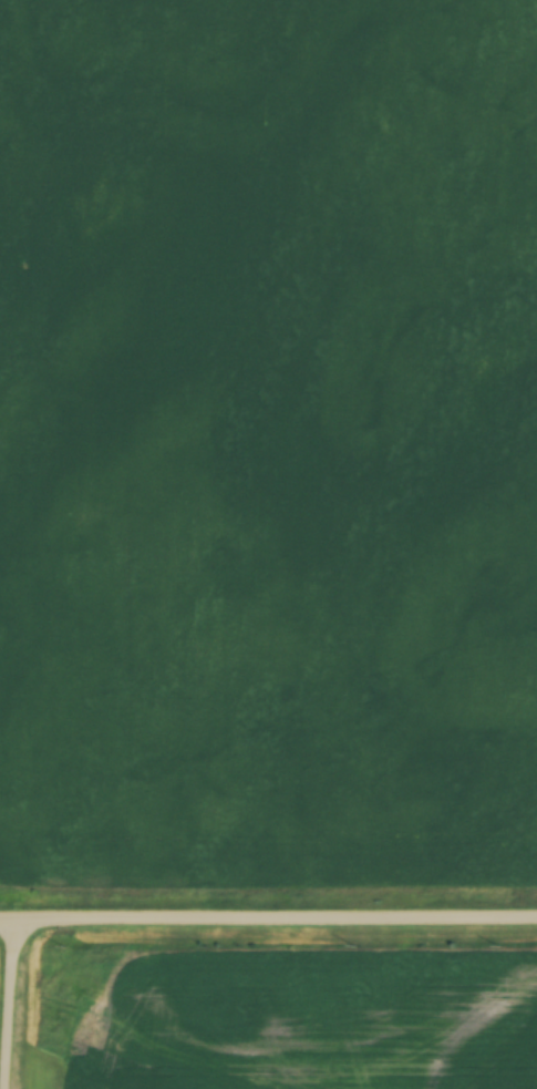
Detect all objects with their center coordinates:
road: (268, 915)

